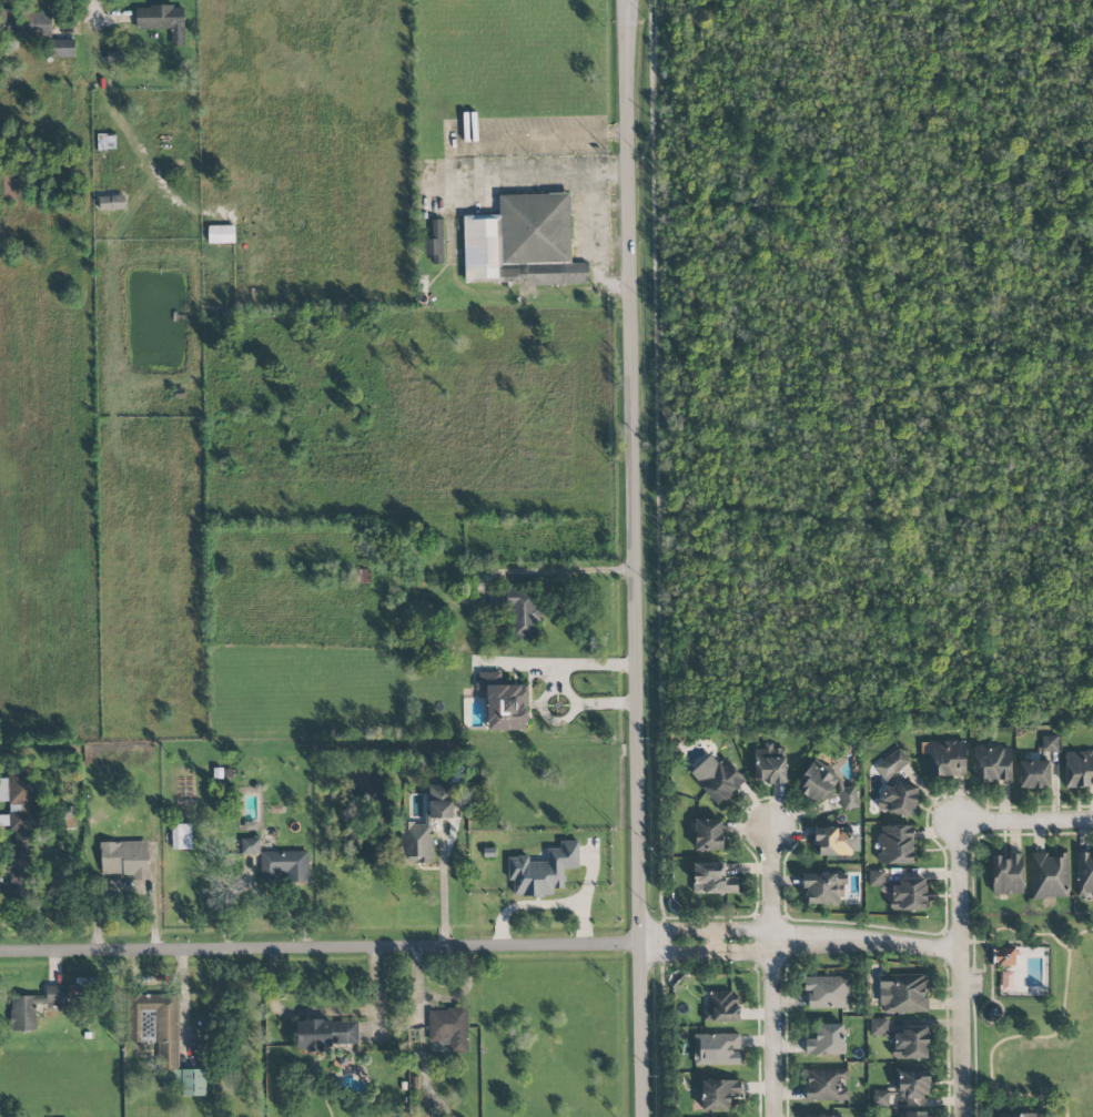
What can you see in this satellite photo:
road: (92, 14)
building: (162, 20)
building: (26, 23)
building: (62, 49)
road: (535, 171)
road: (588, 180)
road: (608, 202)
building: (111, 203)
road: (589, 221)
building: (221, 234)
building: (524, 241)
building: (435, 242)
road: (598, 277)
road: (632, 558)
road: (656, 558)
road: (554, 571)
building: (517, 611)
road: (563, 682)
building: (503, 703)
building: (1049, 743)
building: (947, 758)
building: (991, 763)
building: (769, 764)
building: (1079, 769)
building: (1034, 774)
building: (718, 778)
building: (819, 781)
building: (897, 786)
building: (18, 789)
building: (849, 798)
building: (439, 801)
road: (1024, 818)
building: (708, 834)
building: (181, 836)
building: (833, 841)
building: (415, 843)
building: (895, 844)
building: (250, 845)
building: (19, 853)
building: (124, 859)
building: (284, 867)
building: (543, 871)
building: (1006, 874)
building: (1084, 874)
road: (588, 875)
building: (1049, 875)
building: (876, 877)
building: (712, 879)
road: (128, 883)
building: (823, 887)
road: (444, 891)
building: (909, 894)
road: (543, 904)
road: (972, 918)
road: (707, 930)
road: (1019, 932)
road: (866, 940)
road: (320, 948)
road: (707, 952)
building: (1004, 956)
road: (983, 958)
road: (960, 967)
road: (991, 971)
road: (772, 972)
building: (1005, 981)
building: (828, 992)
building: (903, 993)
road: (980, 1006)
building: (33, 1007)
building: (721, 1007)
road: (1076, 1026)
building: (878, 1027)
building: (449, 1028)
building: (324, 1034)
road: (1020, 1036)
building: (164, 1040)
building: (826, 1040)
building: (910, 1043)
building: (717, 1049)
building: (911, 1082)
building: (827, 1085)
building: (718, 1094)
building: (880, 1098)
building: (911, 1114)
building: (1016, 1114)
building: (824, 1115)

